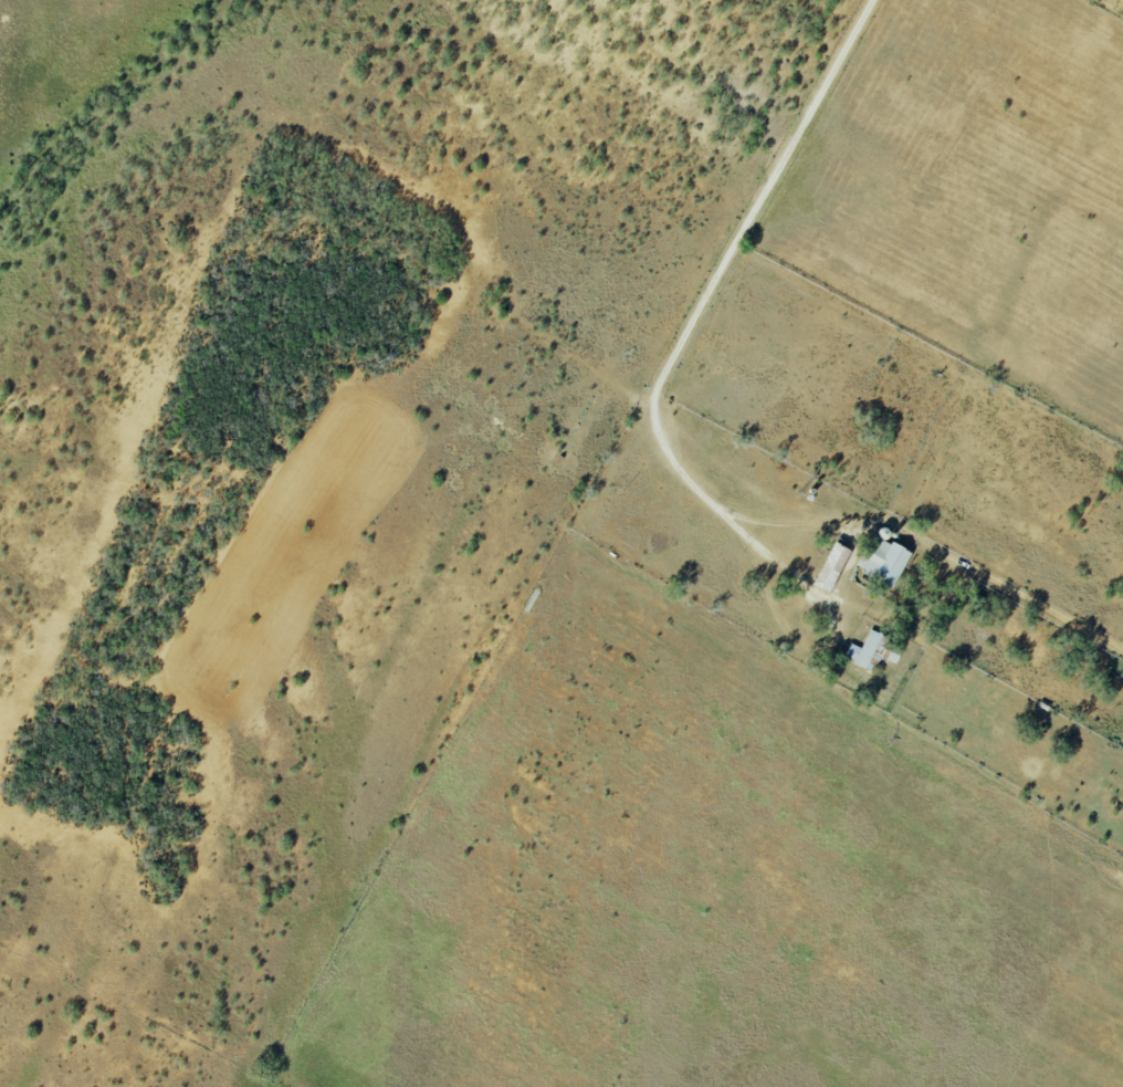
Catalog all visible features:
road: (672, 456)
road: (779, 561)
building: (884, 561)
building: (863, 651)

